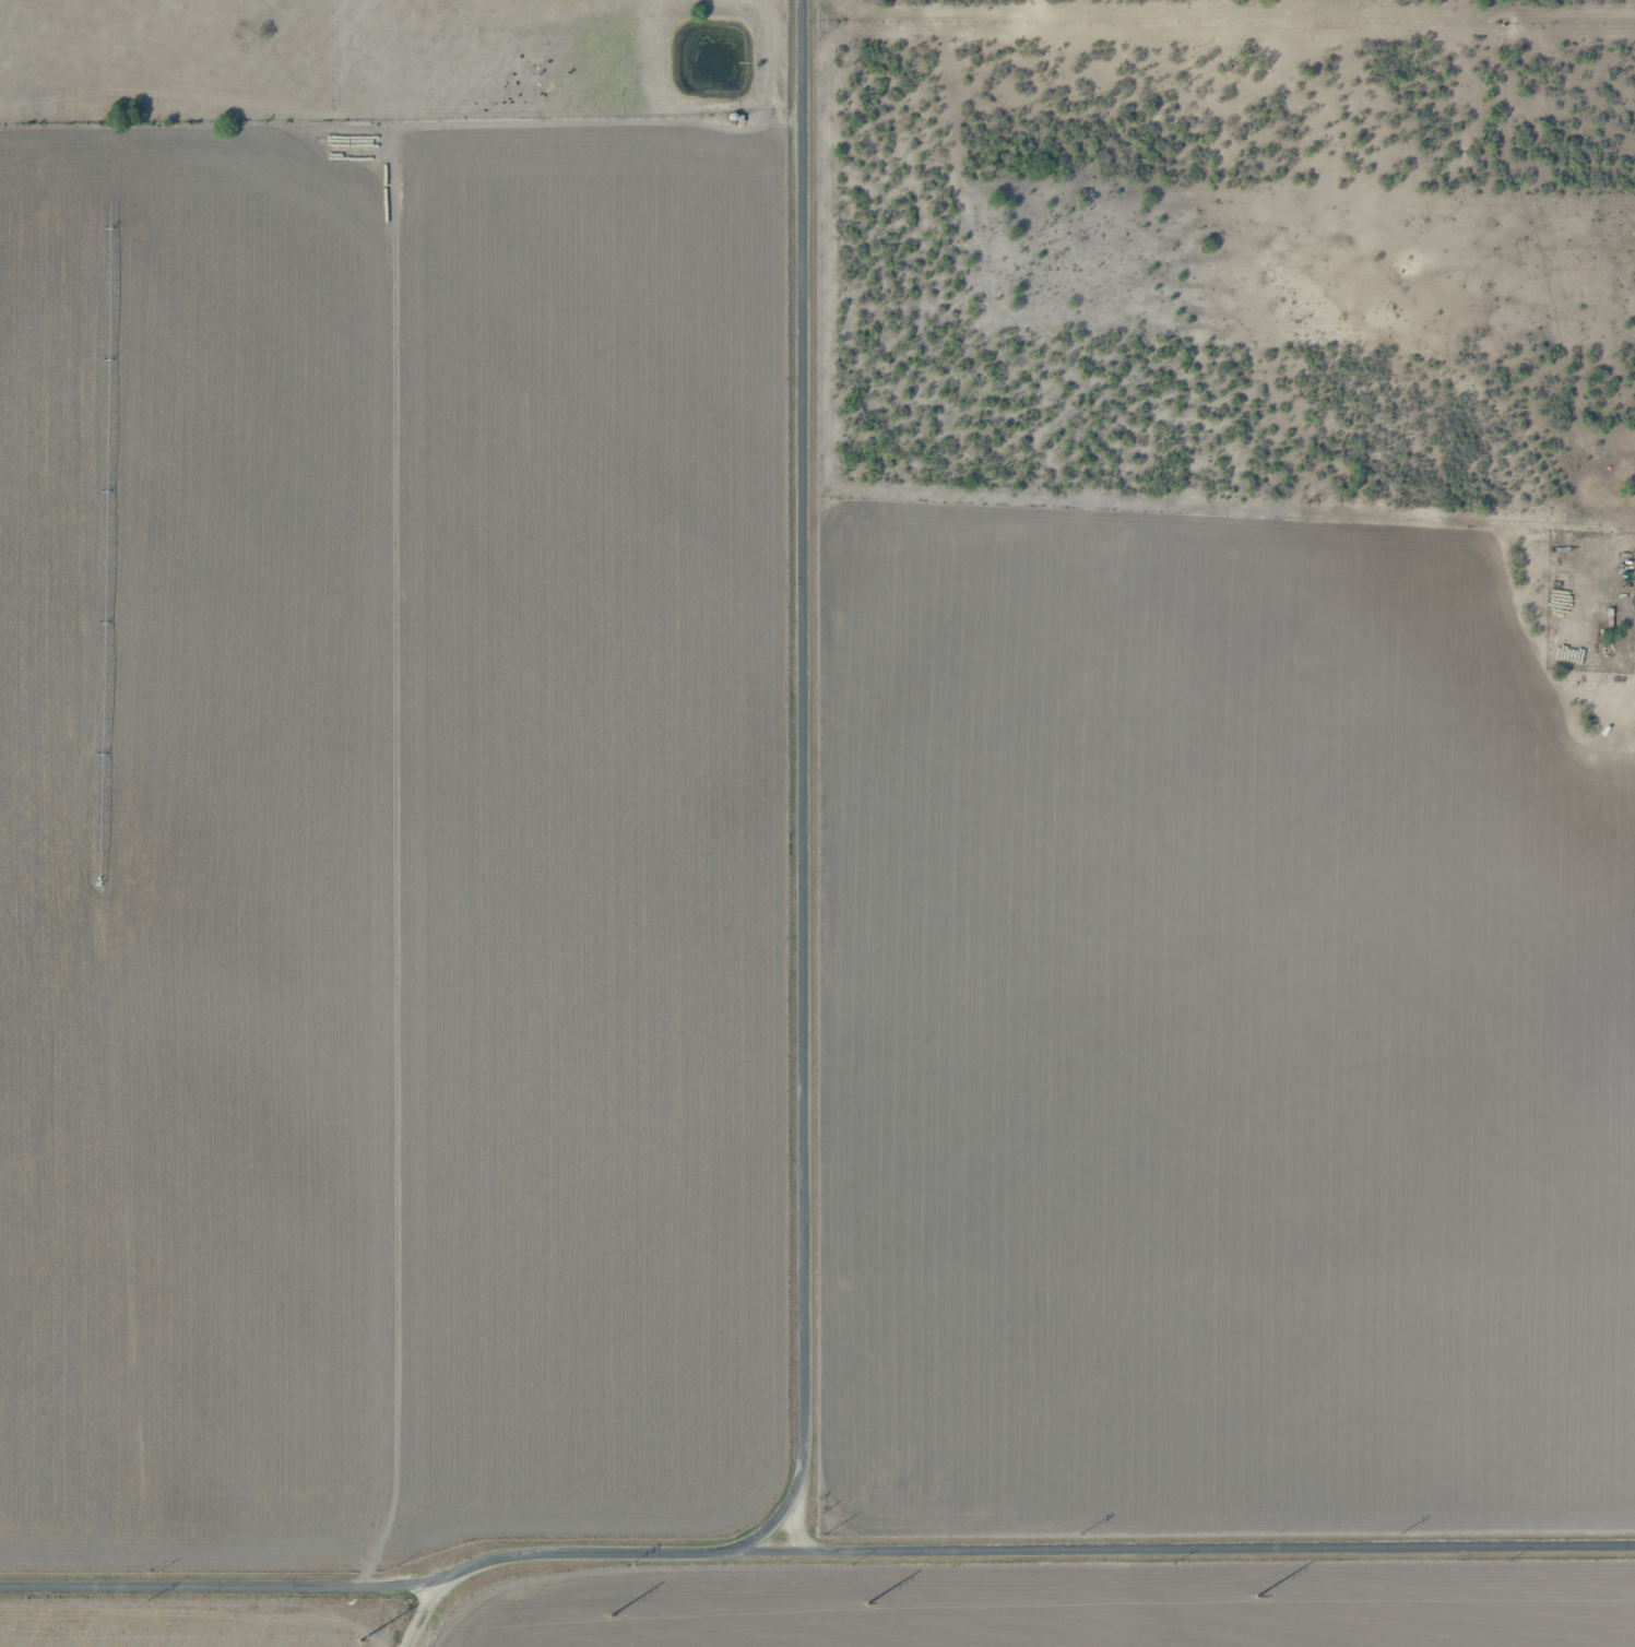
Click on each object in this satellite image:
road: (1583, 496)
road: (805, 780)
road: (762, 1533)
power tower: (1402, 1533)
power tower: (1083, 1535)
power tower: (826, 1536)
road: (814, 1553)
power tower: (627, 1564)
power tower: (1254, 1595)
power tower: (147, 1600)
power tower: (403, 1601)
power tower: (864, 1602)
road: (426, 1612)
power tower: (609, 1615)
power tower: (359, 1640)

